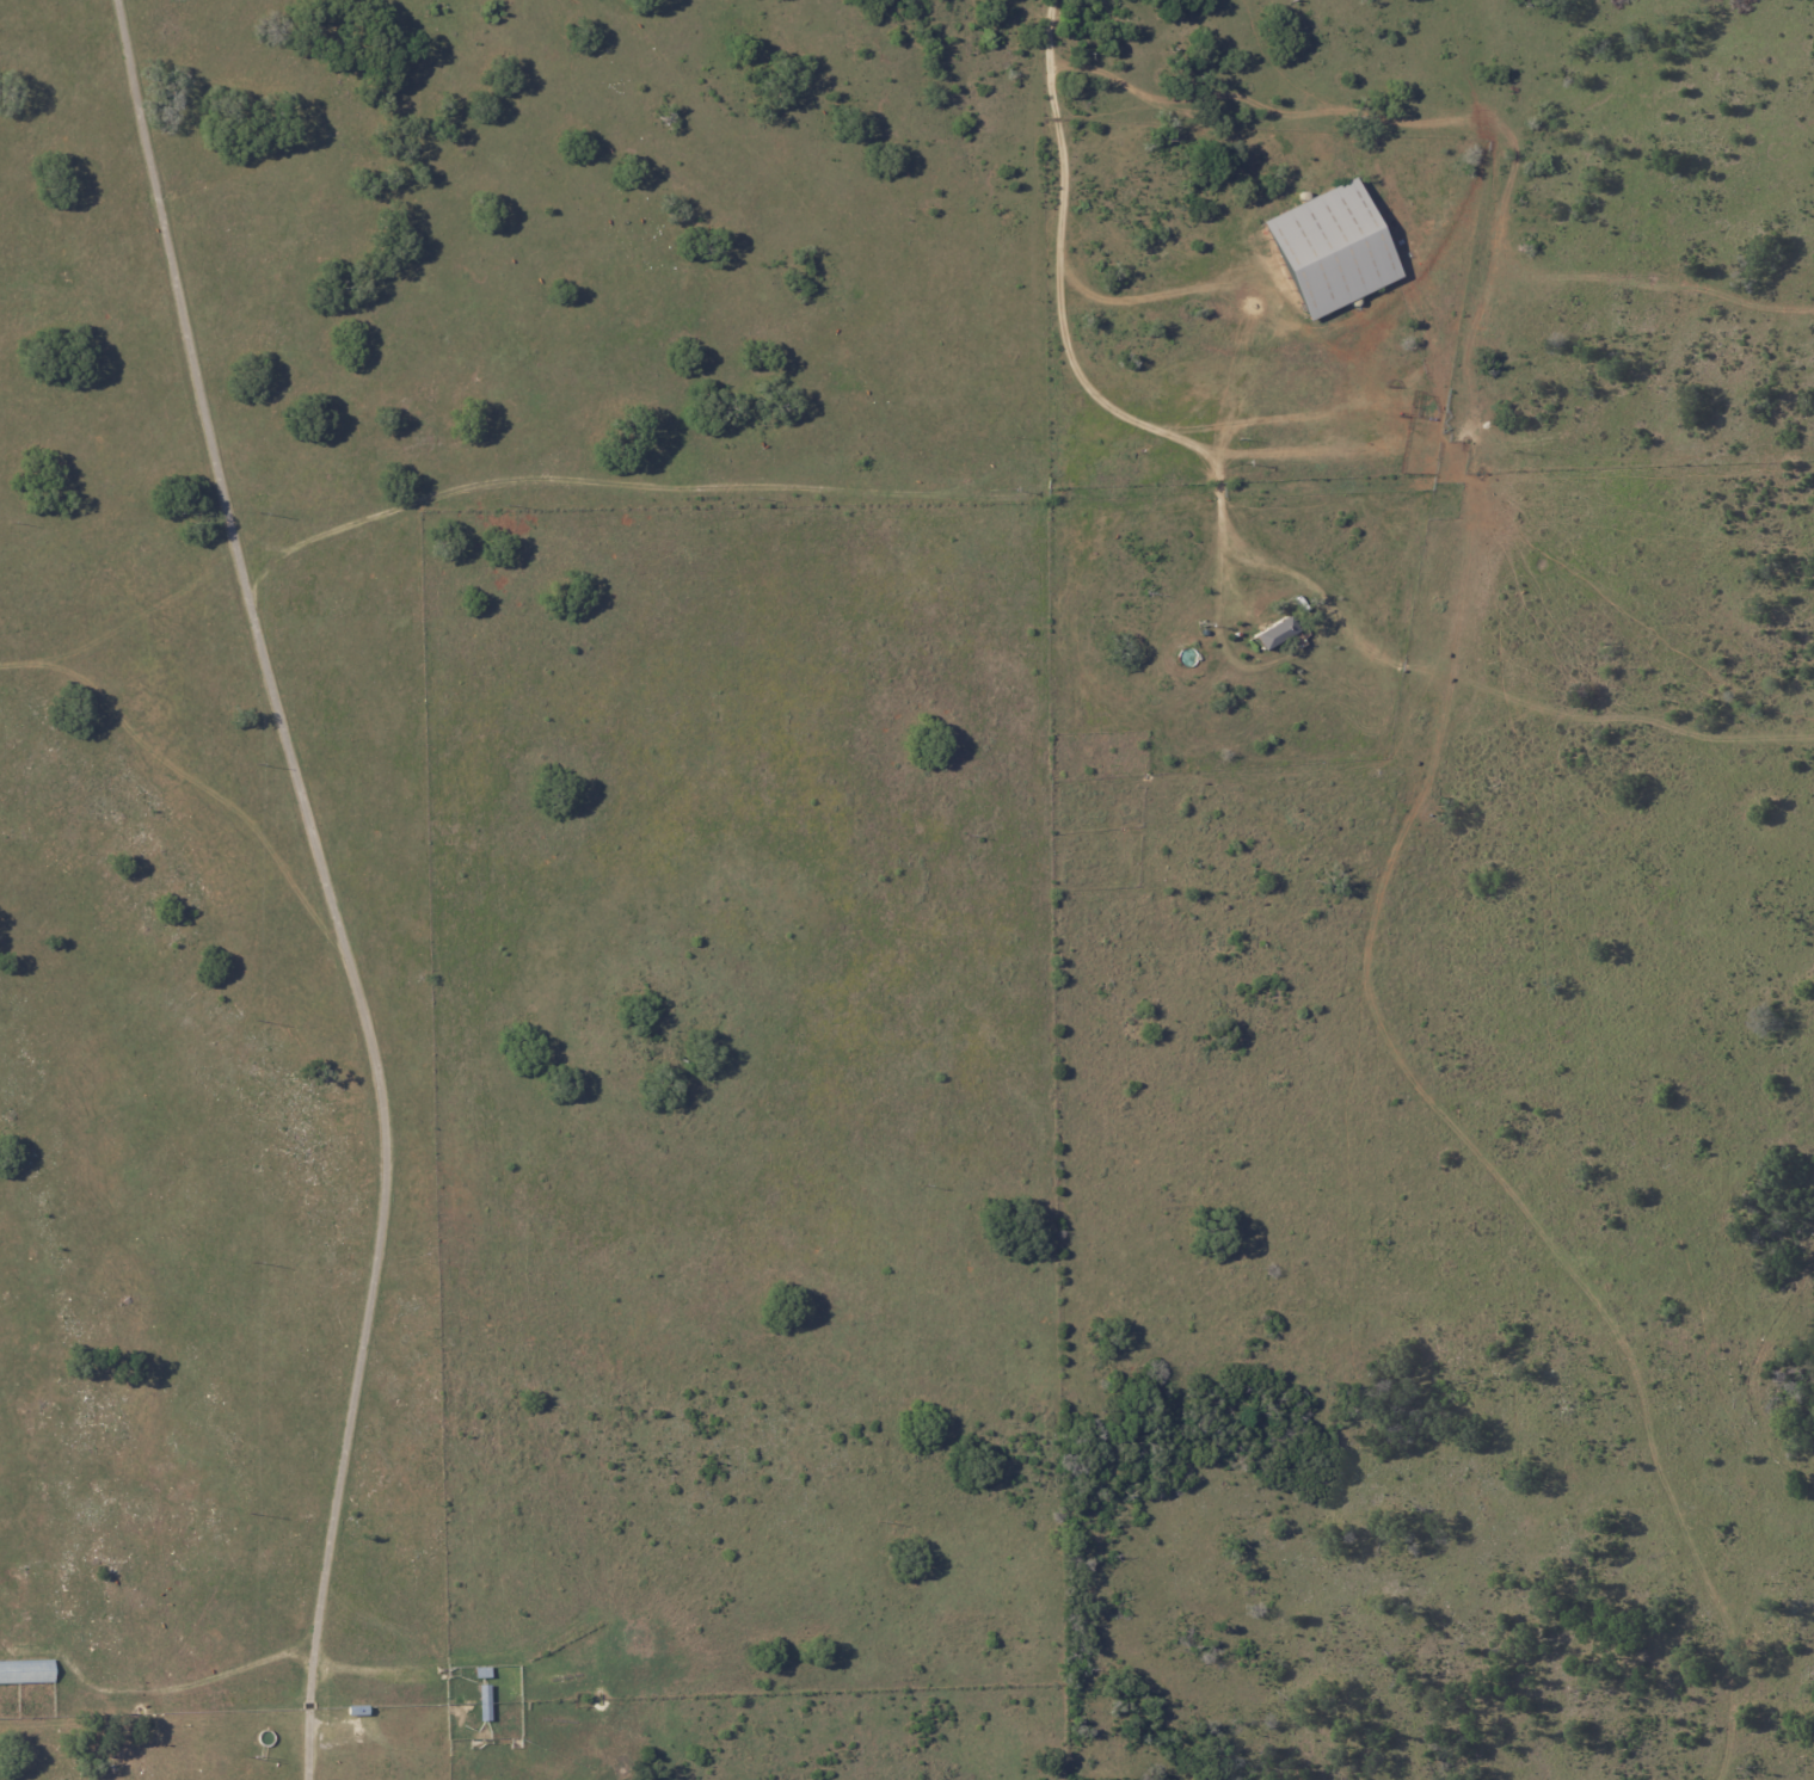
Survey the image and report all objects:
road: (1060, 201)
building: (1335, 248)
road: (1217, 544)
building: (1275, 634)
road: (328, 891)
building: (27, 1671)
building: (485, 1673)
road: (180, 1683)
building: (487, 1704)
building: (359, 1711)

